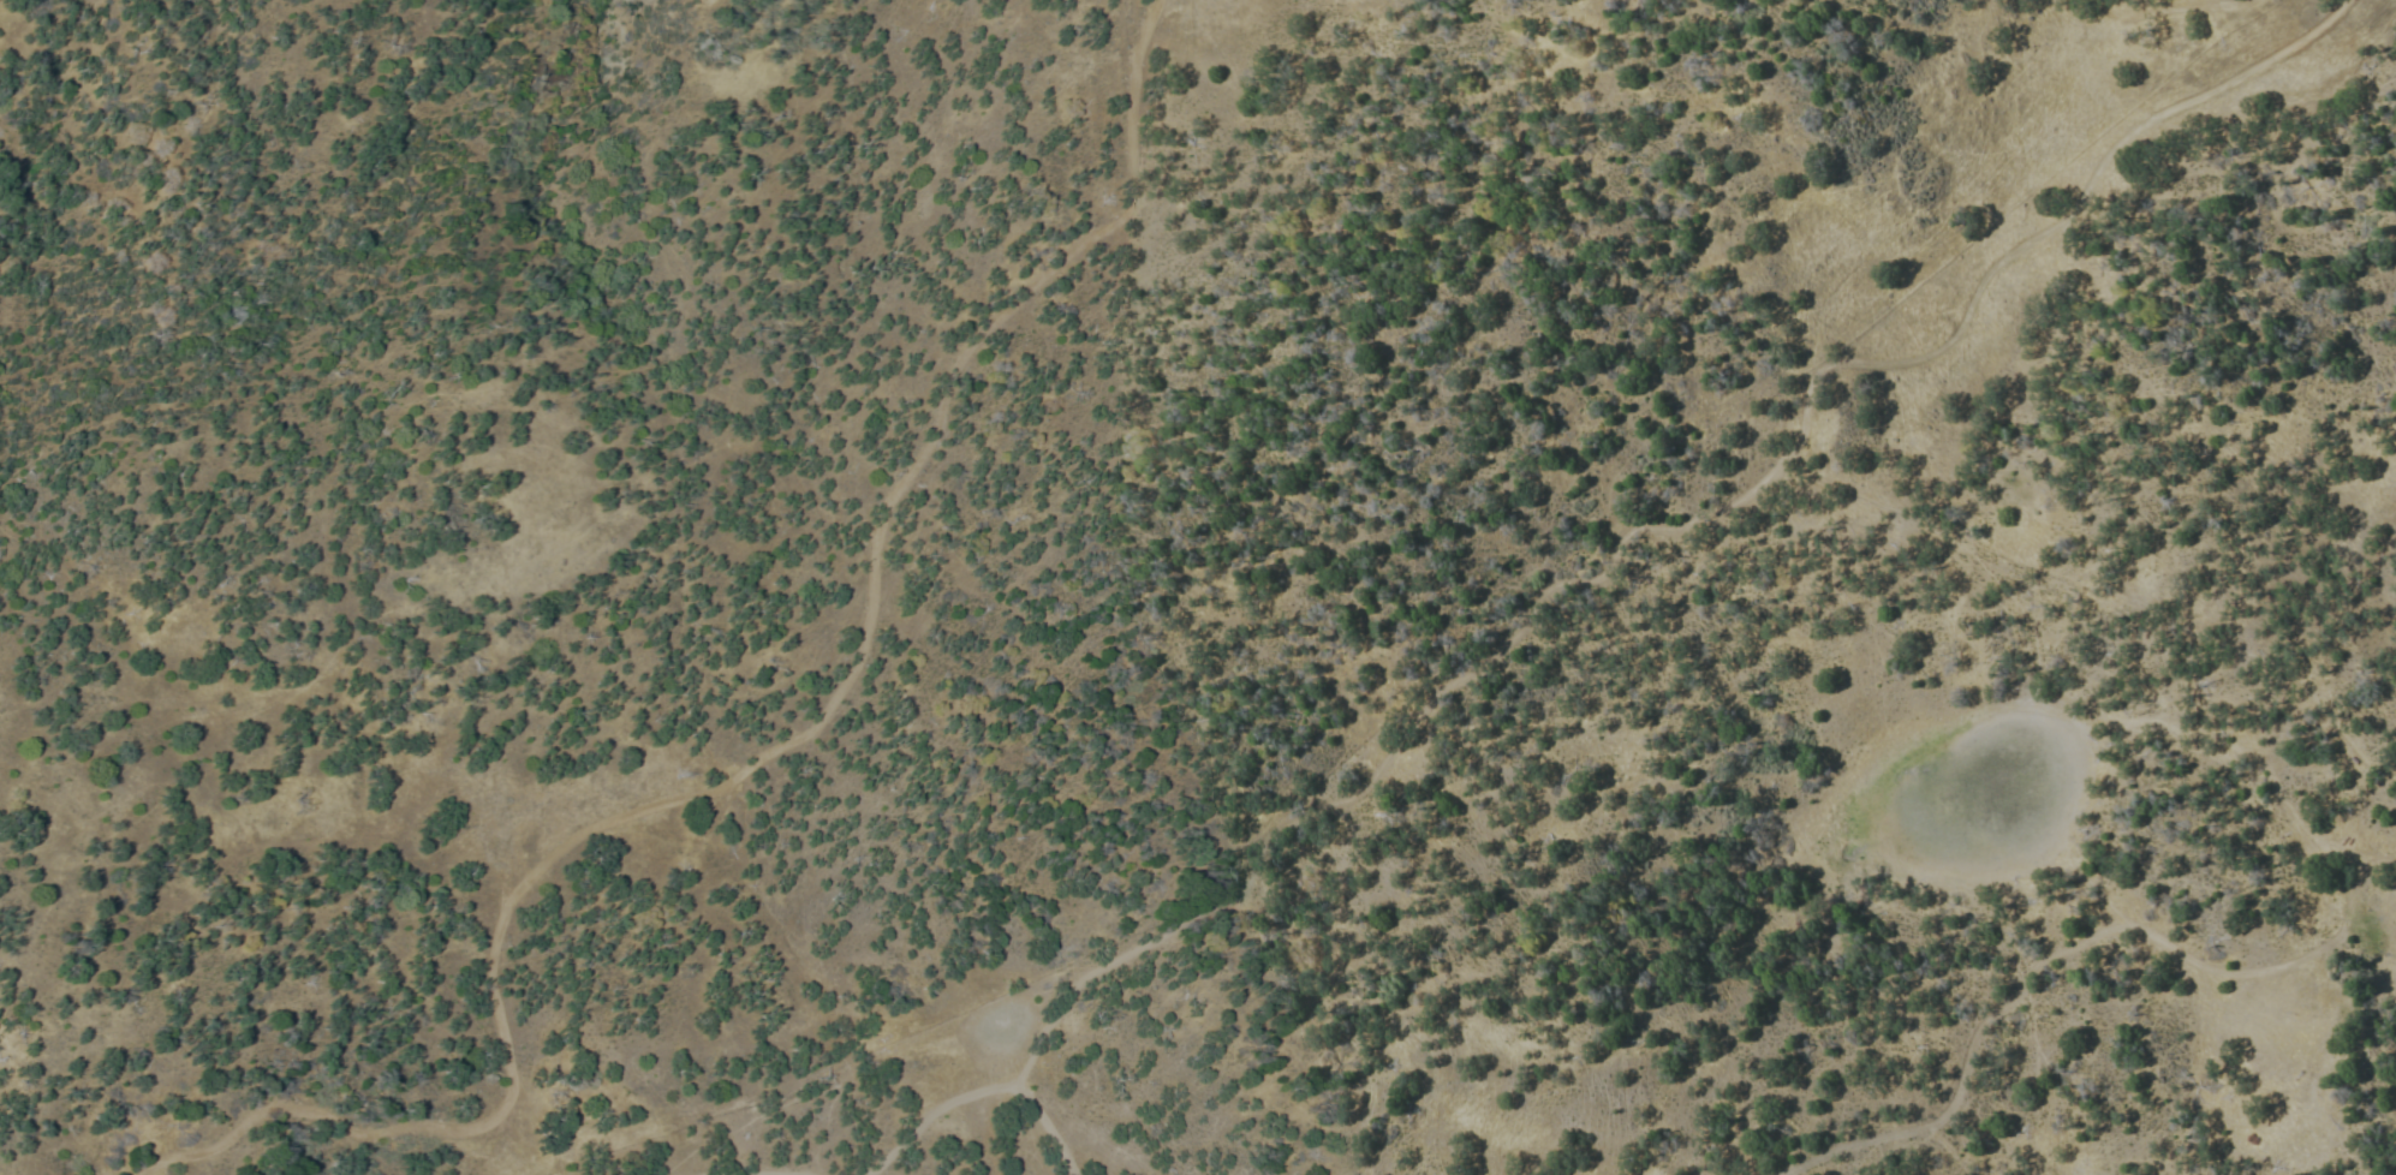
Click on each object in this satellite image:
road: (2169, 10)
road: (2242, 71)
road: (1575, 583)
road: (761, 762)
road: (2378, 861)
road: (2372, 914)
road: (2031, 970)
road: (935, 1114)
road: (1048, 1128)

